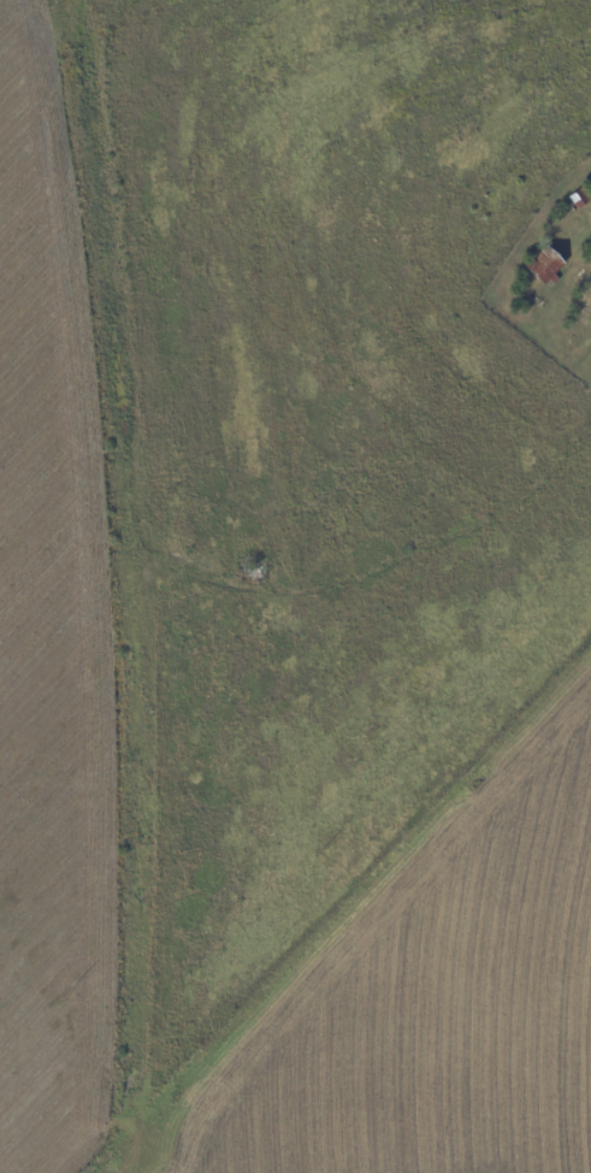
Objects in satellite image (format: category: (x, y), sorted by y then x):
building: (581, 199)
building: (561, 217)
building: (546, 269)
building: (583, 307)

